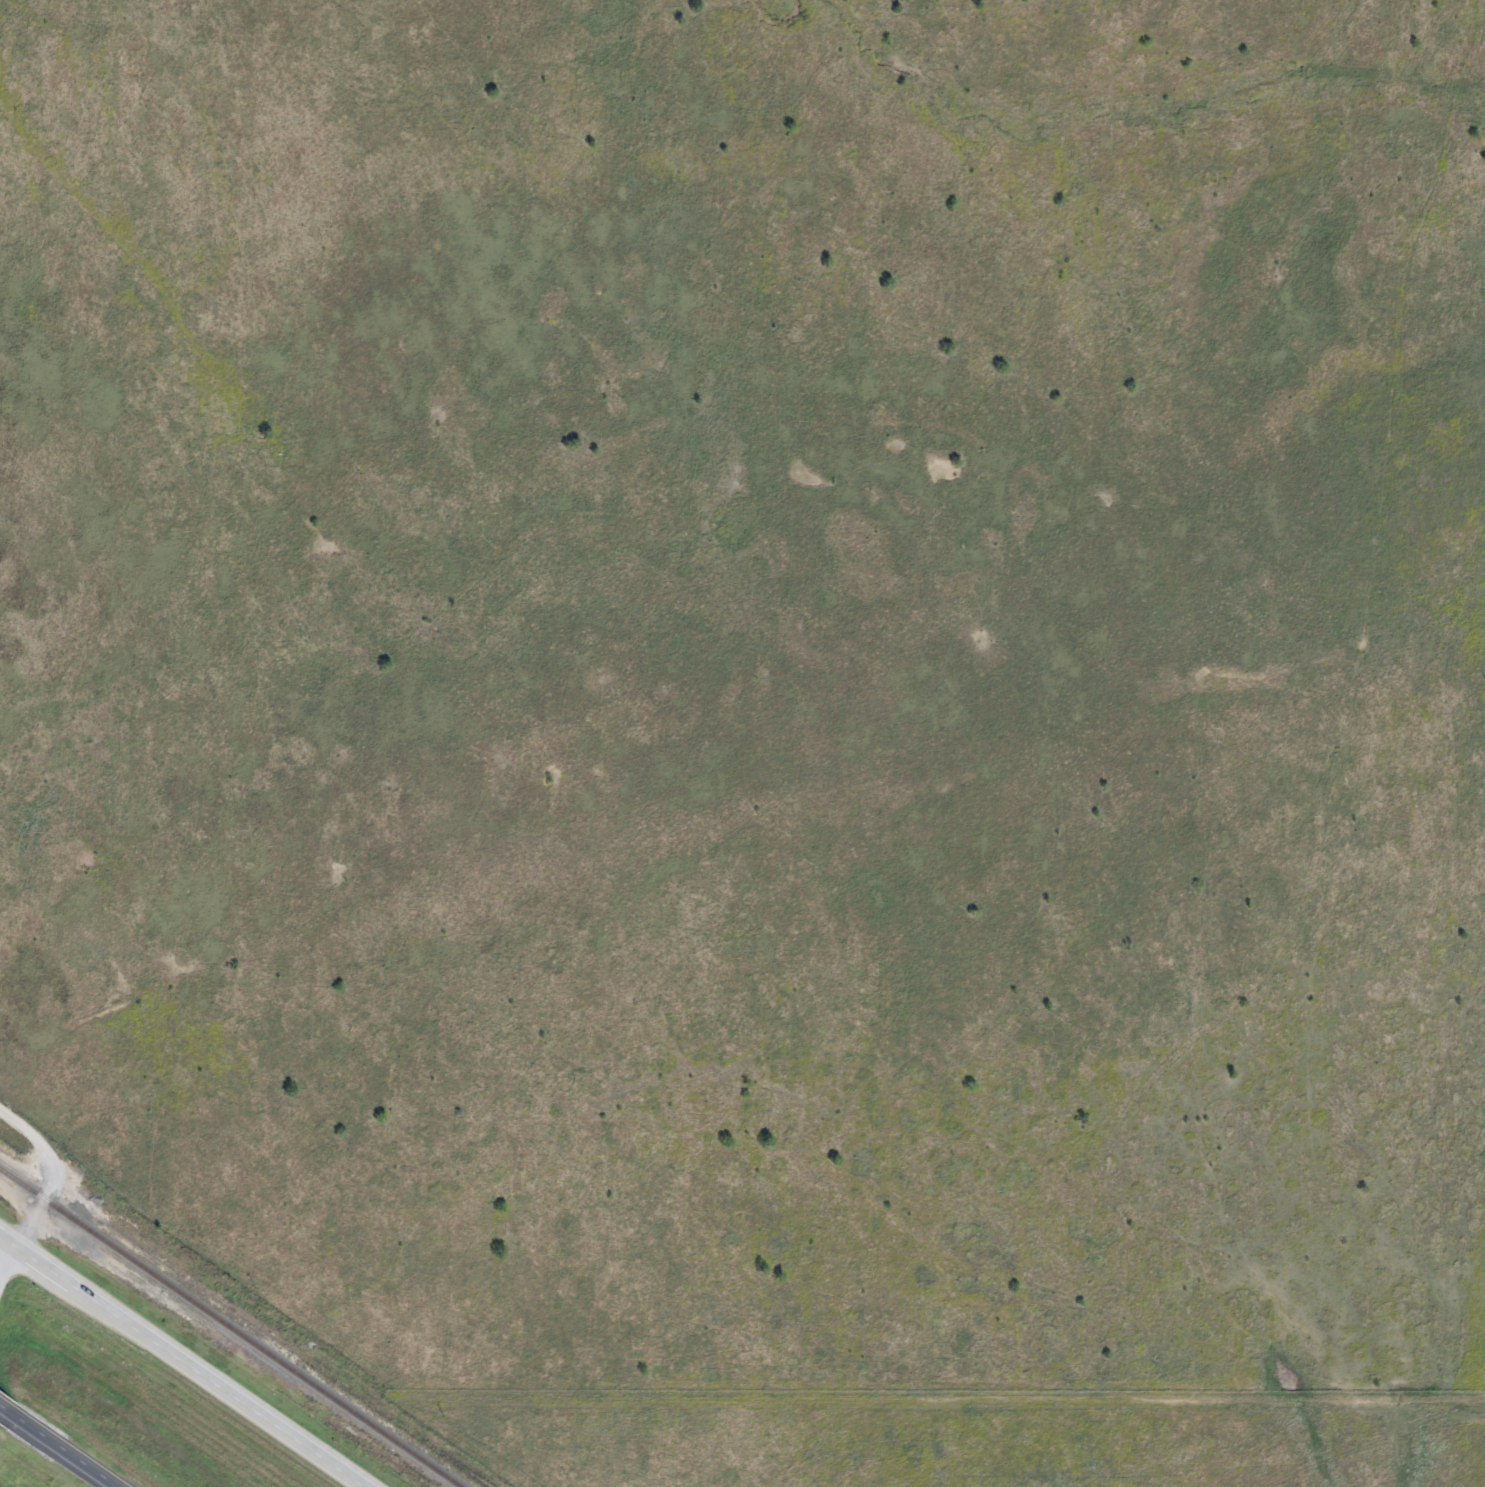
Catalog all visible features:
road: (56, 1168)
road: (8, 1264)
railway: (229, 1329)
road: (183, 1359)
road: (10, 1413)
road: (68, 1453)

